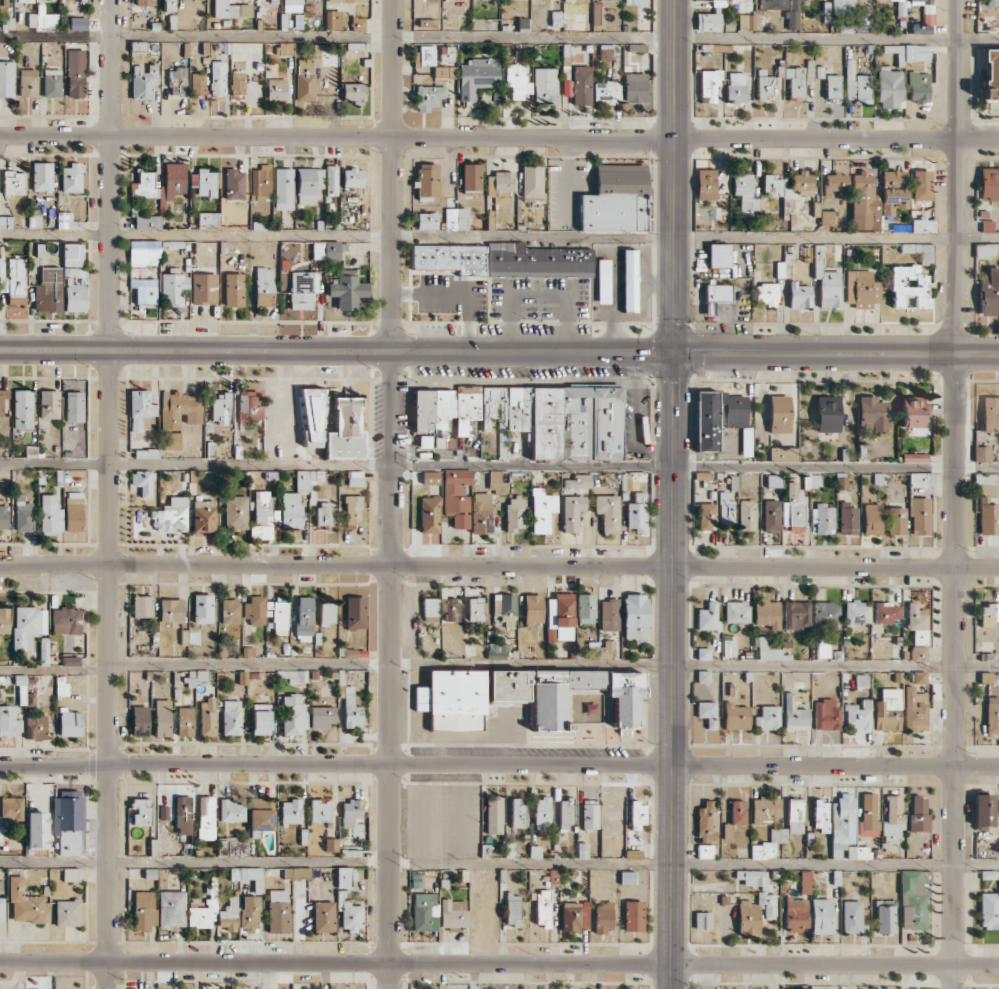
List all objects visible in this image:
building: (309, 0)
building: (575, 0)
building: (898, 0)
building: (24, 1)
building: (273, 1)
building: (346, 1)
building: (145, 2)
building: (636, 2)
building: (990, 2)
building: (772, 4)
building: (168, 5)
building: (291, 6)
building: (842, 6)
building: (225, 9)
building: (245, 10)
building: (595, 16)
building: (792, 16)
building: (924, 17)
building: (42, 18)
building: (332, 20)
building: (708, 22)
building: (746, 22)
building: (77, 23)
building: (357, 24)
road: (499, 36)
building: (285, 48)
building: (447, 53)
building: (909, 53)
building: (425, 56)
building: (75, 73)
building: (990, 73)
building: (477, 76)
building: (217, 77)
building: (7, 78)
building: (304, 80)
building: (143, 81)
building: (177, 81)
building: (517, 81)
building: (795, 82)
building: (28, 83)
building: (51, 83)
building: (197, 85)
building: (545, 85)
building: (709, 85)
building: (237, 86)
building: (764, 86)
building: (857, 86)
building: (918, 86)
building: (635, 87)
building: (736, 87)
building: (832, 88)
building: (276, 89)
building: (889, 89)
building: (353, 92)
building: (607, 92)
building: (428, 96)
road: (499, 137)
building: (42, 176)
road: (675, 176)
building: (352, 177)
building: (471, 177)
building: (71, 178)
building: (174, 180)
building: (331, 180)
building: (427, 181)
building: (13, 182)
building: (204, 182)
building: (261, 183)
building: (499, 183)
building: (531, 183)
building: (802, 183)
building: (835, 183)
building: (234, 184)
building: (308, 184)
building: (705, 184)
building: (989, 184)
building: (921, 185)
building: (145, 186)
building: (774, 187)
building: (283, 188)
building: (745, 193)
building: (615, 200)
building: (864, 203)
building: (825, 217)
building: (208, 219)
building: (455, 219)
building: (67, 221)
building: (426, 221)
building: (6, 222)
building: (147, 222)
building: (287, 222)
building: (987, 225)
building: (922, 226)
road: (499, 237)
building: (328, 250)
building: (986, 250)
building: (920, 252)
building: (136, 253)
building: (72, 255)
building: (719, 255)
building: (502, 260)
building: (629, 280)
building: (16, 281)
building: (603, 281)
building: (826, 281)
building: (3, 283)
building: (173, 287)
building: (264, 287)
building: (908, 287)
building: (204, 288)
building: (347, 289)
building: (862, 289)
building: (48, 290)
building: (144, 290)
building: (234, 290)
building: (302, 290)
building: (989, 292)
building: (767, 294)
building: (799, 295)
building: (75, 296)
building: (717, 296)
road: (336, 350)
road: (836, 350)
building: (3, 400)
building: (49, 404)
building: (74, 406)
building: (249, 406)
building: (140, 408)
building: (220, 408)
building: (466, 408)
building: (22, 409)
building: (180, 409)
building: (912, 412)
building: (433, 413)
building: (720, 413)
building: (779, 413)
building: (827, 414)
building: (871, 414)
building: (990, 414)
building: (312, 417)
building: (737, 417)
building: (557, 420)
building: (706, 421)
building: (345, 430)
building: (171, 441)
building: (424, 441)
building: (146, 453)
building: (981, 453)
building: (782, 454)
road: (499, 467)
building: (430, 478)
building: (984, 478)
building: (921, 479)
building: (307, 480)
building: (773, 480)
building: (811, 480)
building: (494, 481)
building: (578, 481)
building: (142, 482)
road: (110, 494)
road: (391, 494)
road: (955, 494)
building: (456, 496)
building: (725, 509)
building: (291, 510)
building: (542, 510)
building: (73, 511)
building: (353, 511)
building: (235, 512)
building: (572, 512)
building: (607, 512)
building: (324, 513)
building: (482, 513)
building: (514, 513)
building: (636, 513)
building: (24, 514)
building: (50, 515)
building: (430, 515)
building: (746, 515)
building: (771, 515)
building: (203, 516)
building: (706, 516)
building: (919, 516)
building: (3, 517)
building: (170, 517)
building: (264, 518)
building: (822, 519)
building: (847, 519)
building: (872, 519)
building: (989, 519)
building: (896, 521)
road: (673, 558)
road: (499, 565)
building: (142, 606)
building: (202, 608)
building: (504, 608)
building: (585, 608)
building: (430, 609)
building: (475, 609)
building: (532, 609)
building: (171, 610)
building: (254, 610)
building: (230, 611)
building: (355, 612)
building: (736, 612)
building: (886, 612)
building: (766, 613)
building: (858, 613)
building: (327, 614)
building: (609, 614)
building: (796, 614)
building: (827, 614)
building: (988, 614)
building: (560, 617)
building: (635, 617)
building: (708, 617)
building: (916, 617)
building: (304, 619)
building: (4, 620)
building: (66, 621)
building: (28, 626)
building: (729, 646)
building: (765, 649)
building: (498, 650)
building: (823, 650)
building: (44, 651)
building: (703, 653)
building: (918, 653)
building: (70, 661)
road: (554, 665)
road: (54, 670)
building: (201, 675)
building: (296, 676)
building: (703, 676)
building: (919, 677)
building: (861, 681)
building: (545, 692)
building: (625, 696)
building: (28, 699)
building: (452, 699)
building: (350, 708)
building: (914, 709)
building: (887, 710)
building: (707, 713)
building: (293, 715)
building: (794, 715)
building: (826, 715)
building: (992, 715)
building: (735, 716)
building: (857, 716)
building: (207, 717)
building: (231, 717)
building: (322, 717)
building: (162, 718)
building: (767, 718)
building: (261, 719)
building: (9, 720)
building: (139, 720)
building: (185, 721)
building: (70, 723)
building: (36, 727)
road: (499, 764)
building: (10, 810)
building: (231, 810)
building: (320, 810)
building: (351, 810)
building: (141, 811)
building: (766, 811)
building: (983, 811)
building: (291, 812)
building: (517, 812)
building: (738, 812)
building: (261, 814)
building: (542, 814)
building: (566, 814)
building: (589, 814)
building: (637, 814)
building: (893, 814)
building: (918, 814)
building: (183, 815)
building: (493, 815)
building: (821, 815)
building: (795, 816)
building: (868, 816)
building: (206, 818)
building: (67, 822)
building: (705, 823)
building: (37, 829)
building: (845, 829)
building: (778, 835)
building: (331, 845)
building: (232, 846)
building: (762, 849)
building: (704, 851)
road: (499, 866)
building: (70, 874)
road: (671, 876)
building: (250, 877)
building: (344, 877)
building: (627, 878)
building: (752, 878)
building: (805, 882)
building: (913, 899)
building: (24, 903)
building: (172, 908)
building: (542, 908)
building: (2, 909)
building: (512, 909)
building: (144, 910)
building: (204, 910)
building: (423, 910)
building: (989, 910)
building: (278, 911)
building: (349, 911)
building: (67, 913)
building: (249, 913)
building: (453, 913)
building: (755, 913)
building: (796, 913)
building: (228, 915)
building: (574, 915)
building: (323, 916)
building: (603, 916)
building: (633, 916)
building: (822, 916)
building: (852, 916)
building: (885, 917)
building: (702, 920)
road: (499, 962)
building: (981, 988)

